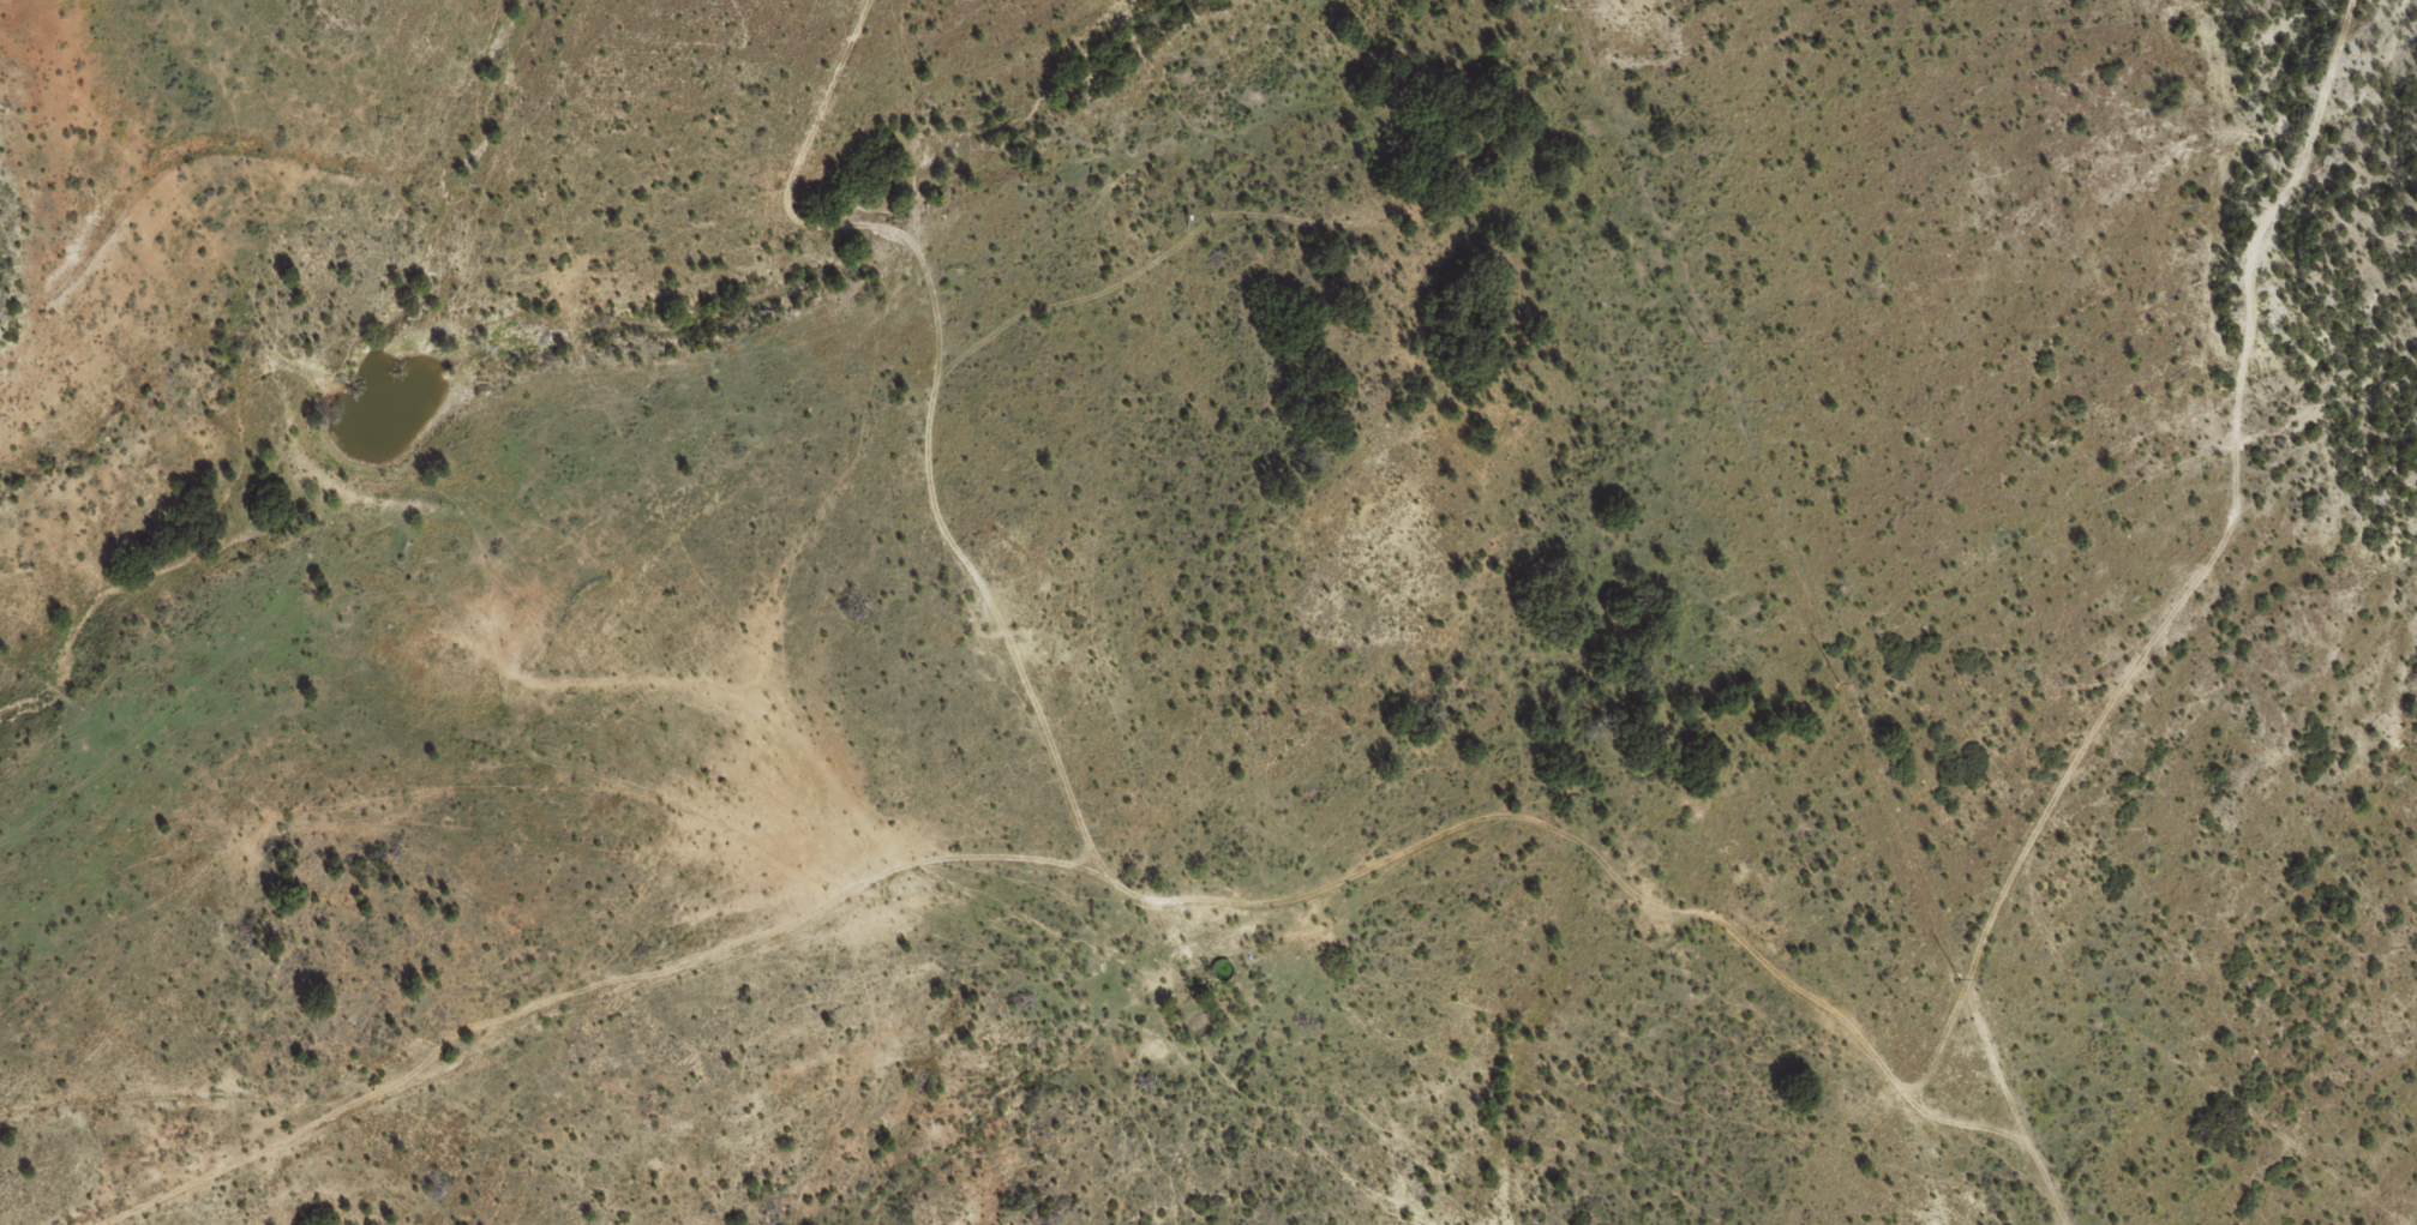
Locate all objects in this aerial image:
power tower: (1564, 6)
power tower: (1705, 346)
power tower: (1840, 680)
road: (1067, 941)
power tower: (1956, 979)

